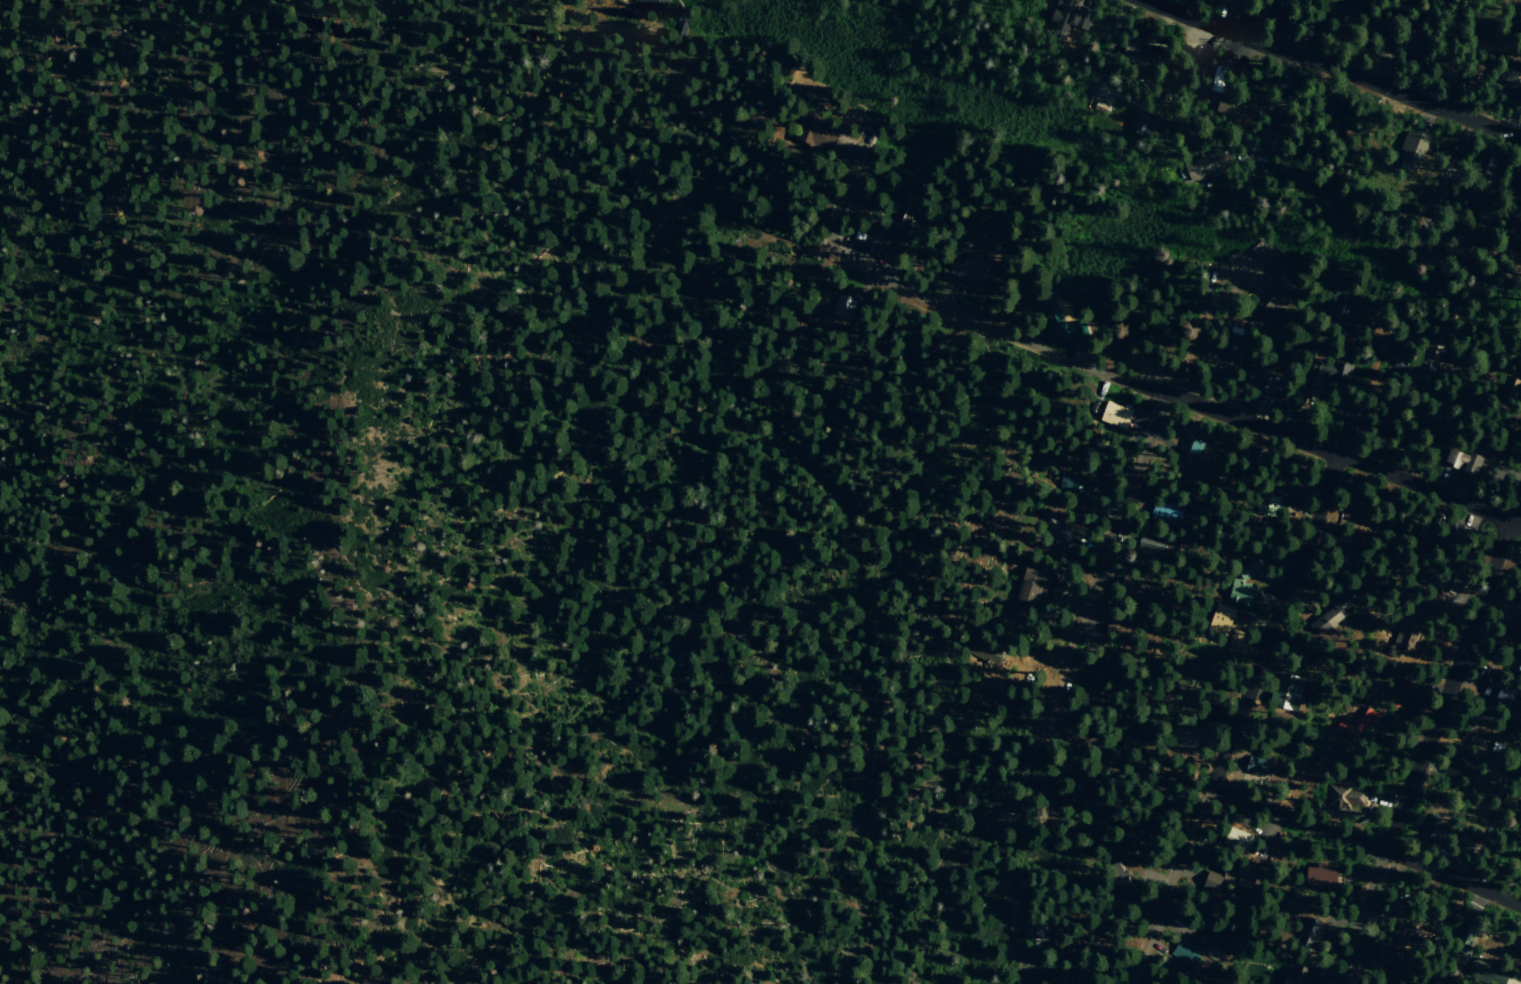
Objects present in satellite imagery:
building: (1282, 2)
building: (651, 4)
building: (1339, 12)
building: (1068, 16)
building: (679, 25)
building: (1382, 40)
building: (1419, 47)
road: (1106, 50)
building: (1136, 60)
road: (1332, 67)
building: (1507, 74)
building: (1215, 79)
building: (1462, 82)
building: (1228, 109)
road: (1270, 113)
building: (1144, 122)
building: (811, 133)
building: (1410, 151)
building: (1484, 165)
building: (1202, 166)
road: (1437, 184)
road: (839, 204)
building: (1480, 206)
building: (1394, 215)
building: (904, 218)
building: (859, 241)
building: (965, 270)
building: (1273, 276)
building: (1054, 317)
building: (1429, 353)
building: (1329, 371)
road: (1367, 382)
building: (1259, 384)
road: (1177, 398)
building: (1113, 415)
building: (1191, 451)
building: (1464, 460)
building: (1071, 482)
building: (1268, 503)
building: (1165, 514)
road: (1101, 527)
building: (1149, 544)
building: (1437, 580)
building: (1029, 586)
building: (1238, 586)
building: (1133, 594)
building: (1326, 619)
building: (1219, 620)
building: (1232, 642)
building: (1496, 688)
building: (1284, 691)
road: (1230, 714)
building: (1367, 718)
building: (1345, 731)
road: (1423, 742)
building: (1254, 765)
building: (1461, 771)
building: (1343, 796)
road: (999, 822)
building: (1236, 839)
road: (1361, 846)
building: (1112, 871)
building: (1317, 875)
building: (1225, 878)
building: (1520, 884)
building: (1400, 924)
building: (1308, 930)
building: (1034, 932)
building: (1464, 944)
building: (1196, 956)
building: (1297, 974)

